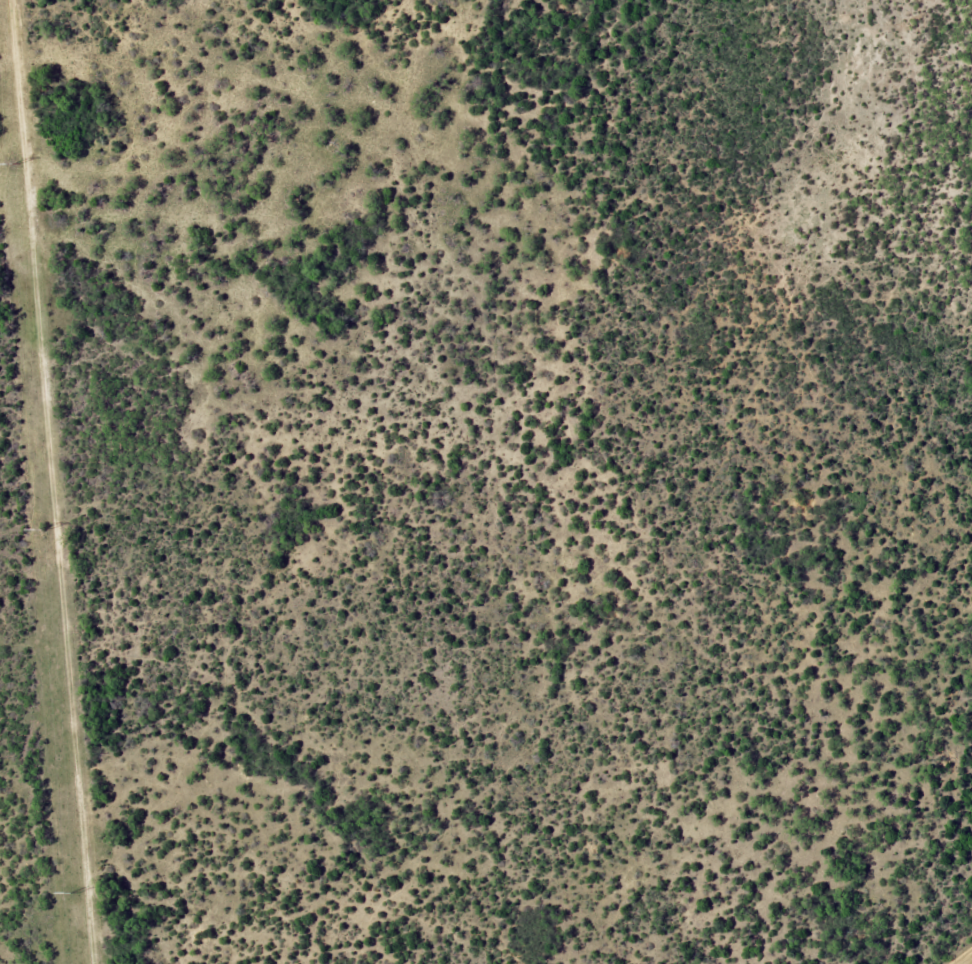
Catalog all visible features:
power tower: (14, 163)
power tower: (47, 531)
road: (113, 853)
power tower: (75, 892)

